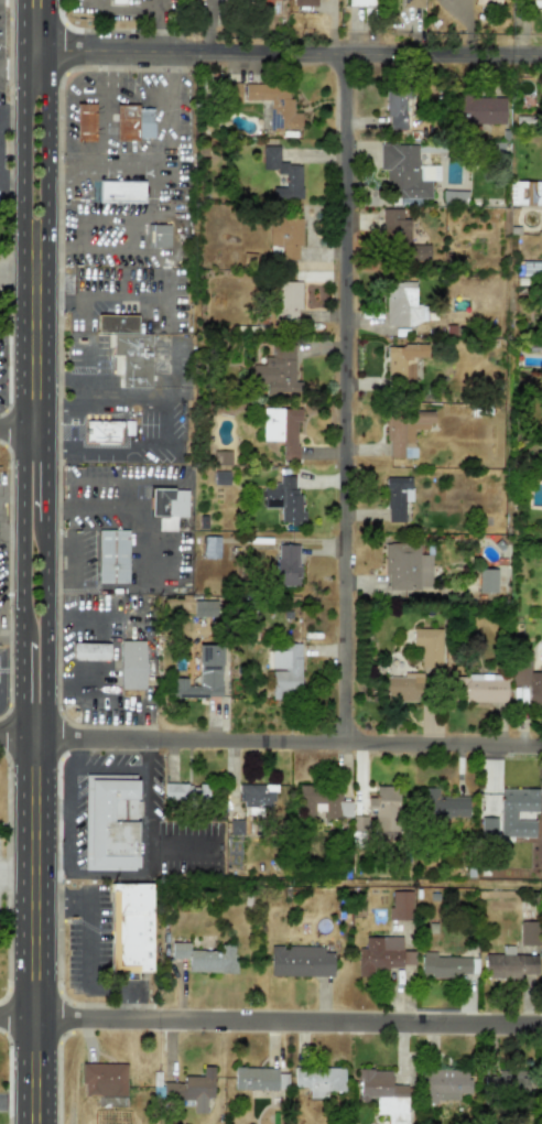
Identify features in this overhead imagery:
building: (117, 1)
building: (304, 2)
building: (487, 2)
building: (360, 3)
building: (412, 3)
road: (154, 6)
road: (119, 10)
road: (153, 31)
road: (282, 53)
road: (23, 73)
building: (230, 91)
building: (274, 105)
building: (397, 107)
road: (11, 111)
building: (84, 121)
building: (132, 122)
building: (401, 171)
building: (292, 179)
building: (120, 191)
building: (528, 192)
road: (9, 208)
building: (163, 235)
building: (284, 235)
building: (400, 236)
road: (23, 268)
building: (531, 268)
road: (91, 298)
building: (288, 299)
building: (402, 304)
building: (116, 323)
road: (23, 344)
building: (133, 358)
building: (401, 360)
road: (175, 366)
building: (275, 369)
road: (57, 379)
road: (75, 391)
road: (112, 391)
road: (351, 397)
road: (24, 429)
building: (281, 430)
building: (403, 431)
building: (101, 432)
building: (540, 445)
road: (140, 451)
road: (11, 485)
road: (122, 495)
building: (397, 497)
building: (283, 500)
building: (167, 506)
road: (78, 538)
road: (11, 540)
building: (210, 547)
building: (111, 555)
road: (134, 559)
road: (22, 561)
road: (47, 561)
building: (286, 564)
building: (405, 566)
building: (487, 580)
road: (63, 581)
building: (204, 608)
road: (113, 645)
building: (427, 646)
building: (89, 651)
building: (131, 664)
building: (284, 670)
building: (203, 674)
building: (528, 677)
building: (401, 688)
building: (480, 688)
road: (23, 728)
road: (294, 739)
road: (65, 753)
road: (142, 753)
road: (104, 767)
building: (185, 793)
building: (257, 795)
building: (322, 801)
building: (443, 804)
building: (383, 808)
building: (507, 815)
road: (64, 819)
building: (110, 822)
building: (235, 825)
building: (487, 826)
road: (143, 845)
road: (106, 873)
building: (400, 906)
building: (130, 927)
building: (529, 932)
road: (99, 952)
building: (383, 954)
building: (205, 958)
building: (300, 961)
building: (510, 964)
building: (446, 965)
road: (270, 1019)
building: (258, 1078)
building: (104, 1079)
building: (318, 1080)
building: (512, 1080)
building: (443, 1083)
building: (191, 1089)
building: (383, 1094)
road: (11, 1099)

